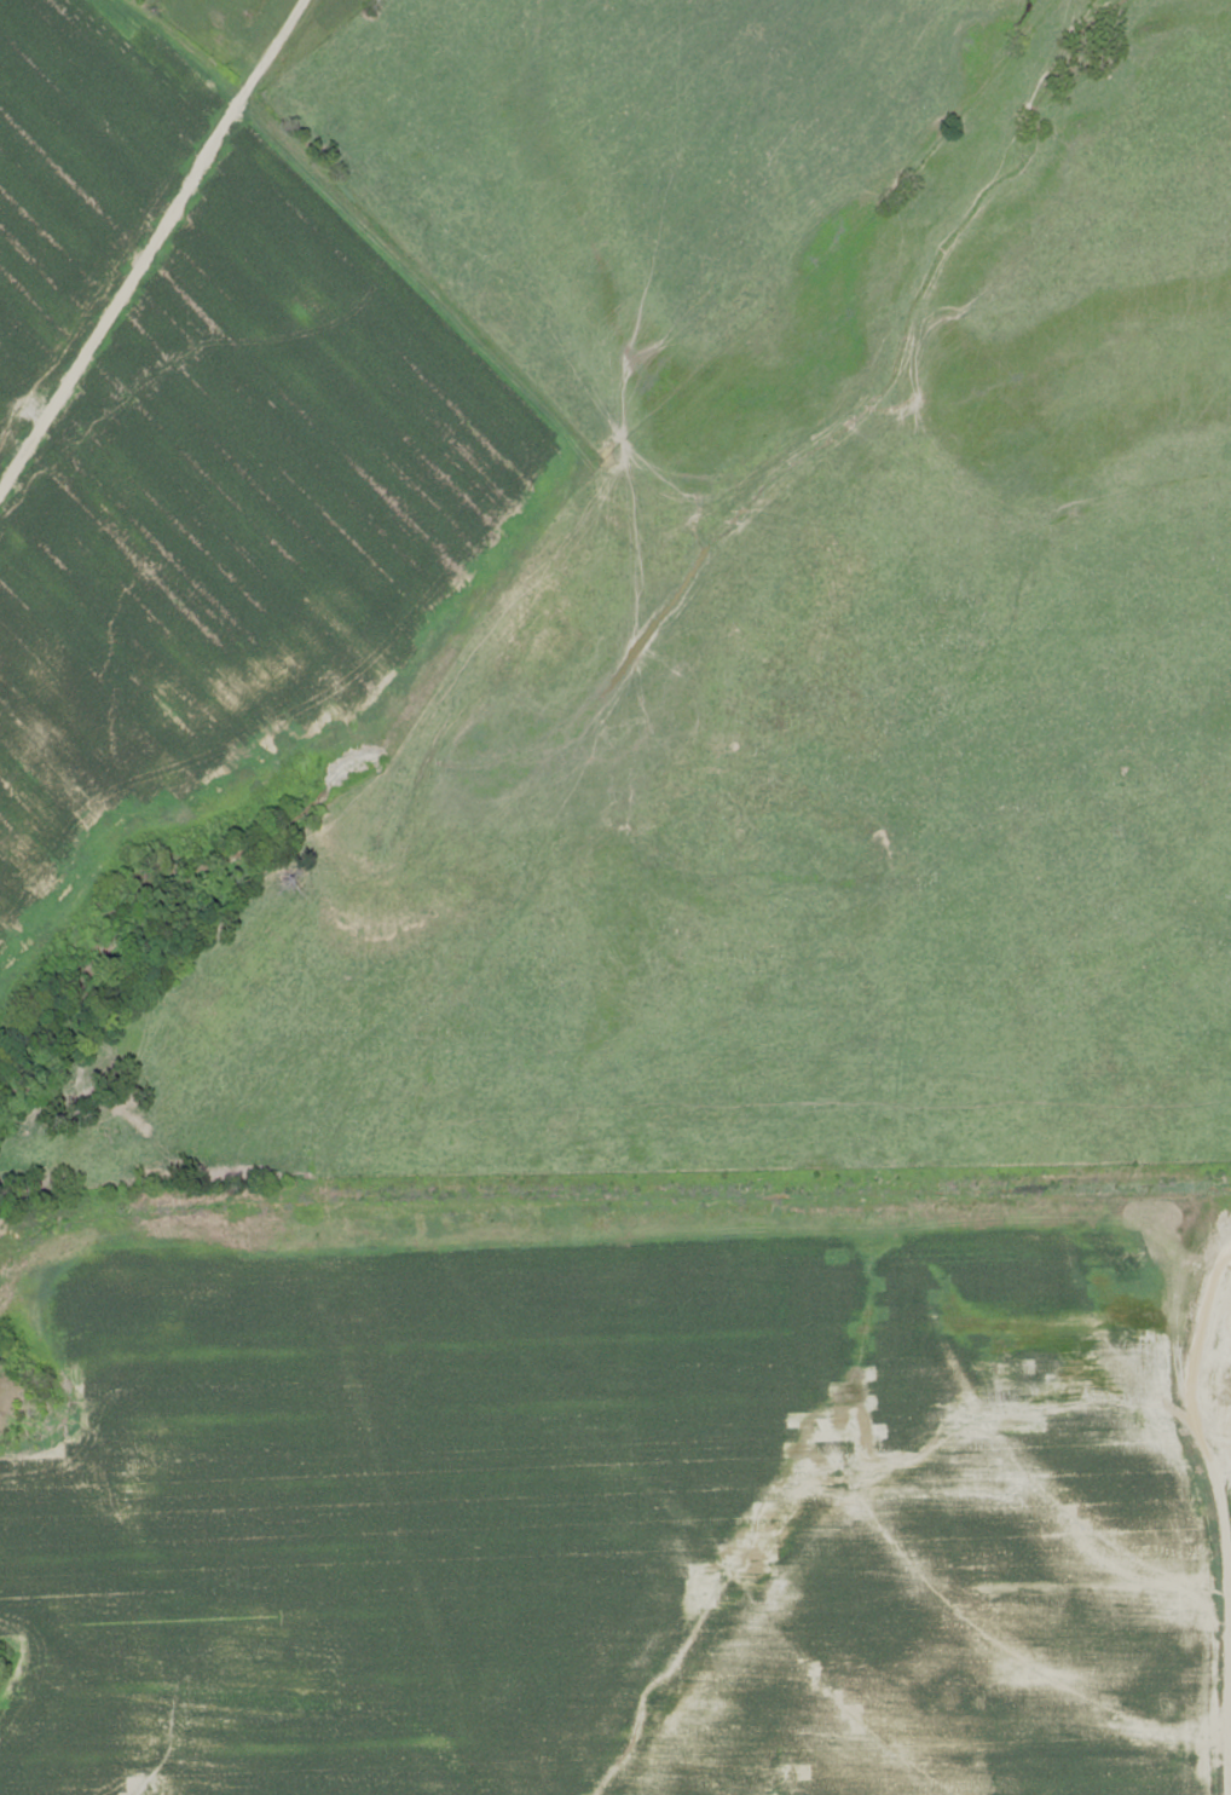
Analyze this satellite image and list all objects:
road: (1207, 1689)

